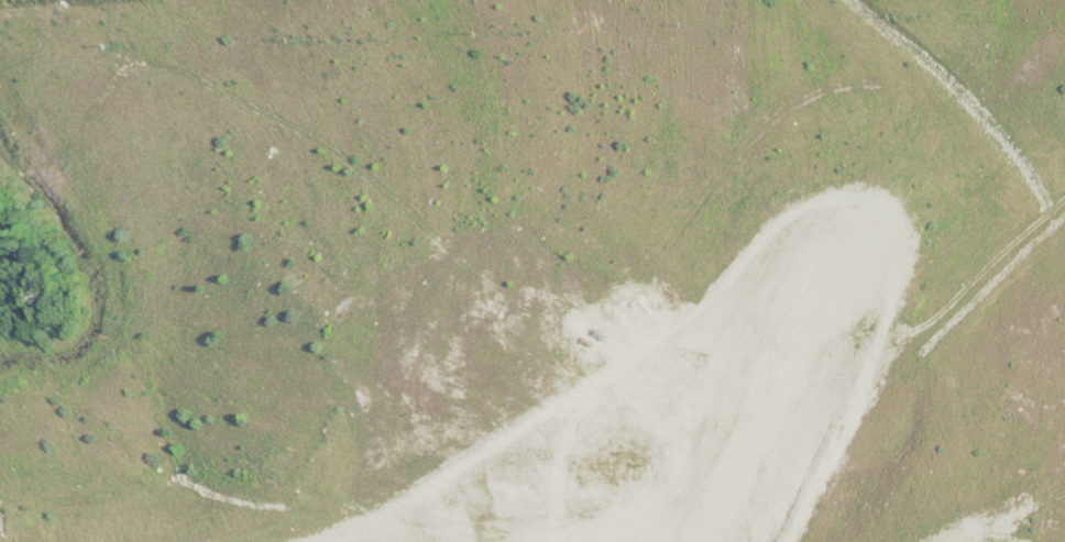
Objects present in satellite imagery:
quarry: (532, 270)

